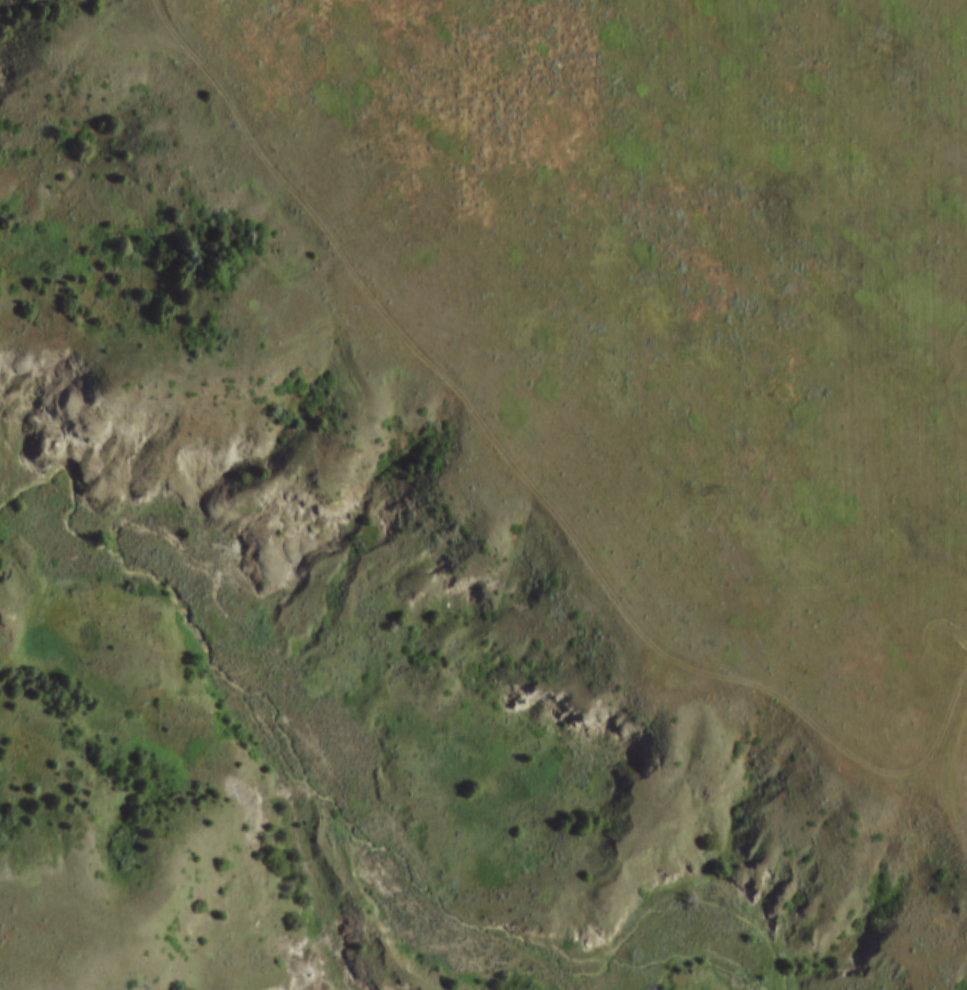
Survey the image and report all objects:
road: (528, 478)
road: (885, 716)

